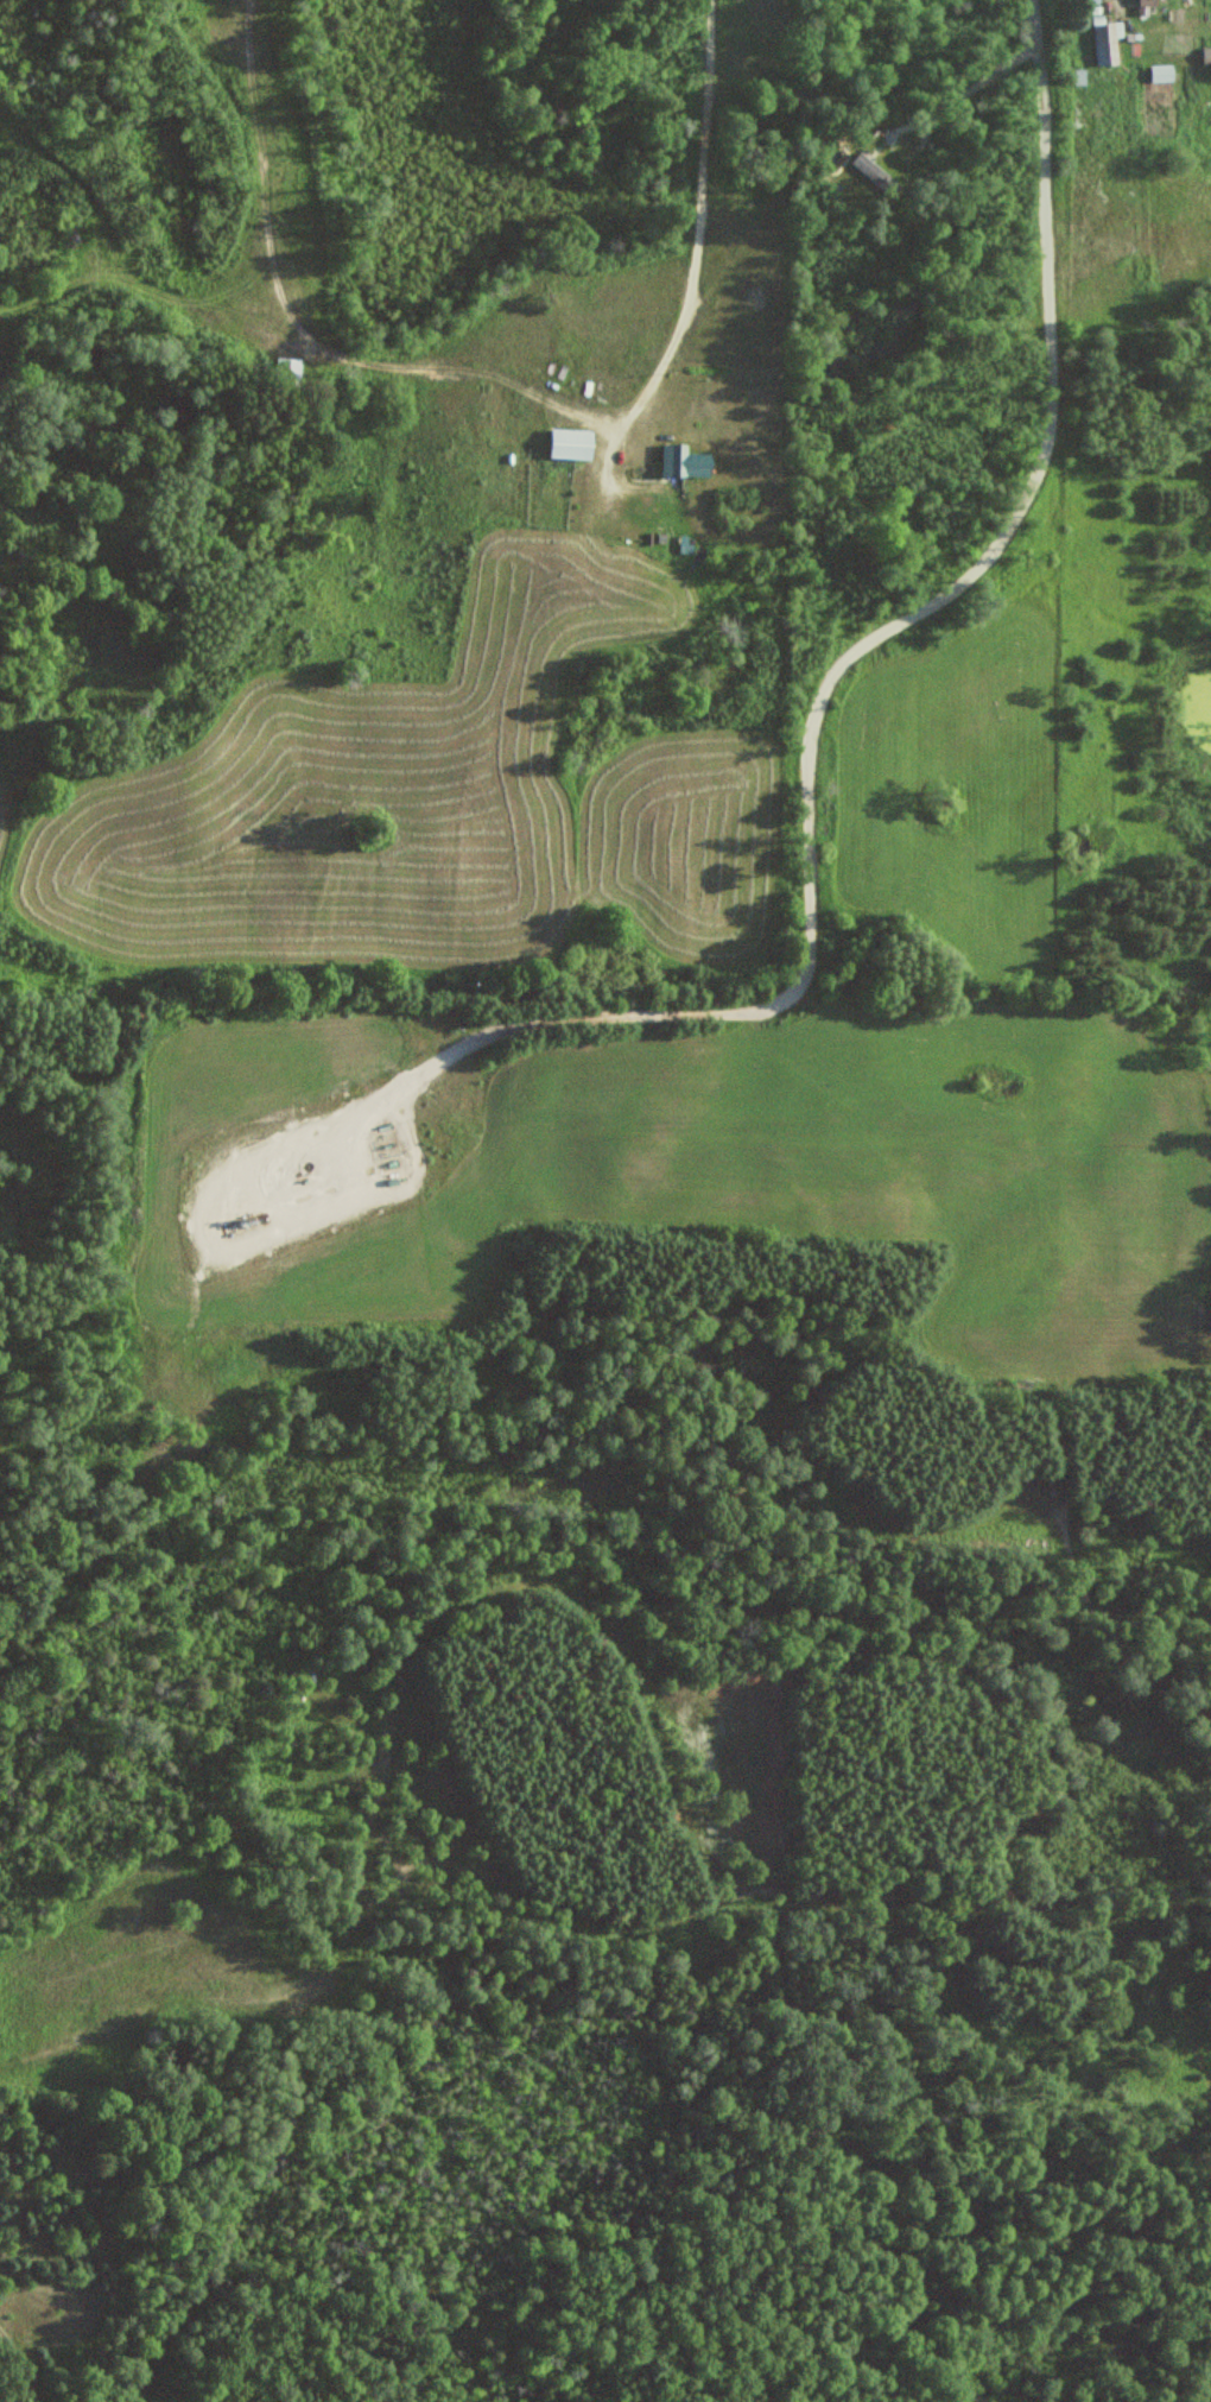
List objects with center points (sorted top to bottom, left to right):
building: (1153, 7)
building: (1109, 42)
building: (1210, 56)
building: (1166, 74)
building: (873, 172)
road: (689, 298)
building: (292, 369)
building: (575, 443)
building: (686, 457)
building: (689, 544)
road: (824, 694)
petroleum well: (251, 1212)

